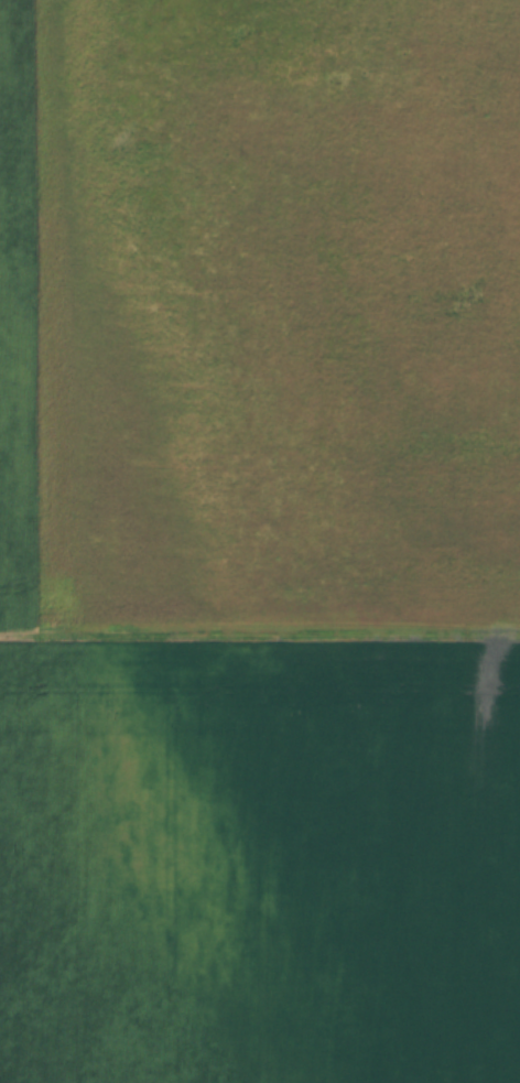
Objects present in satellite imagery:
road: (260, 632)

